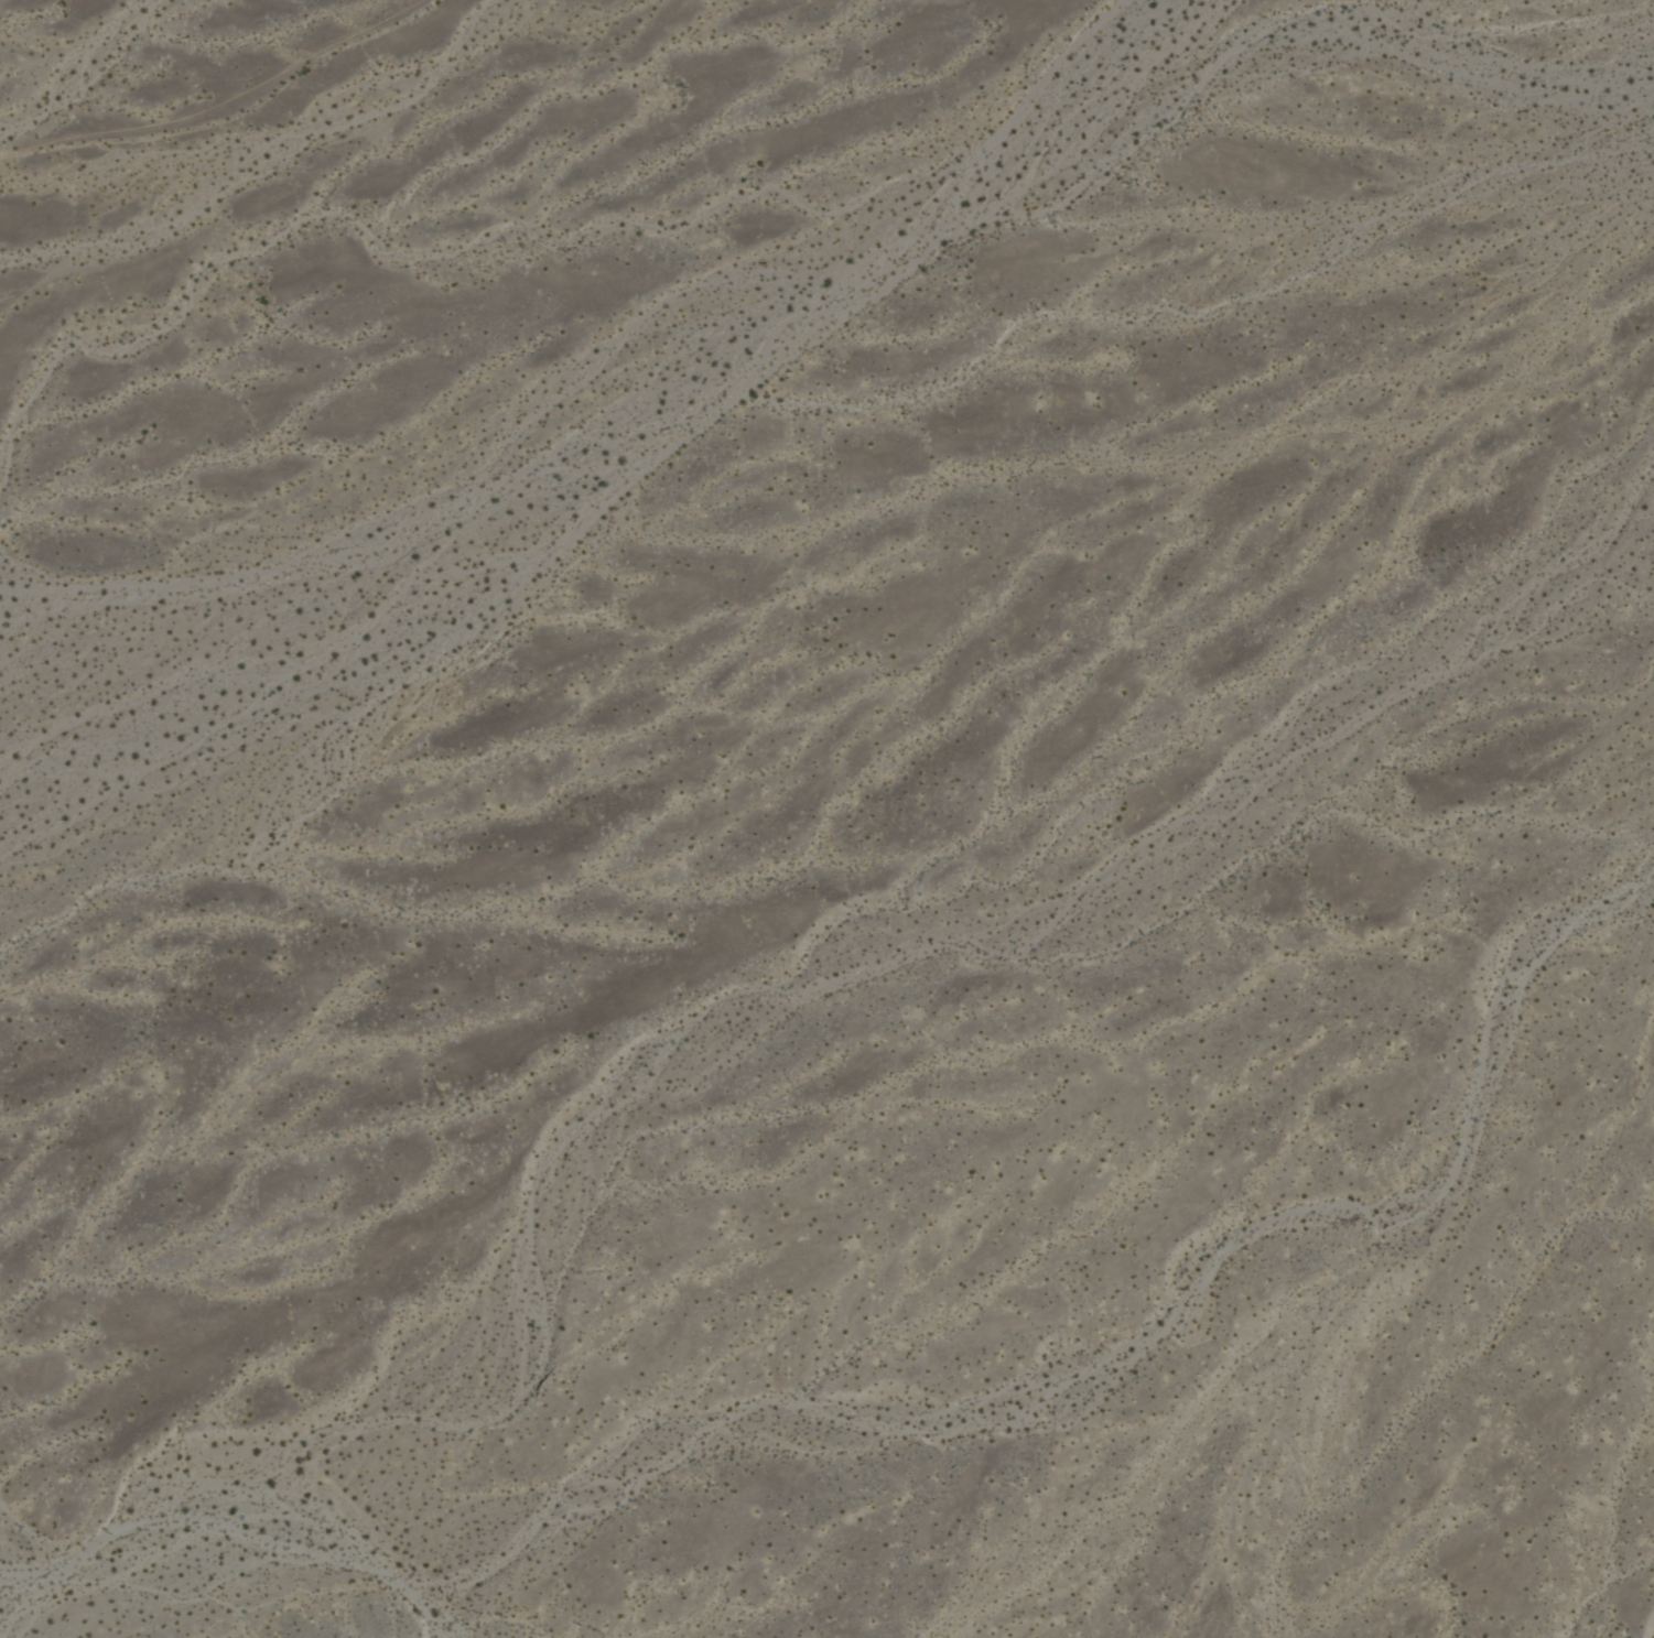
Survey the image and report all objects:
road: (231, 115)

